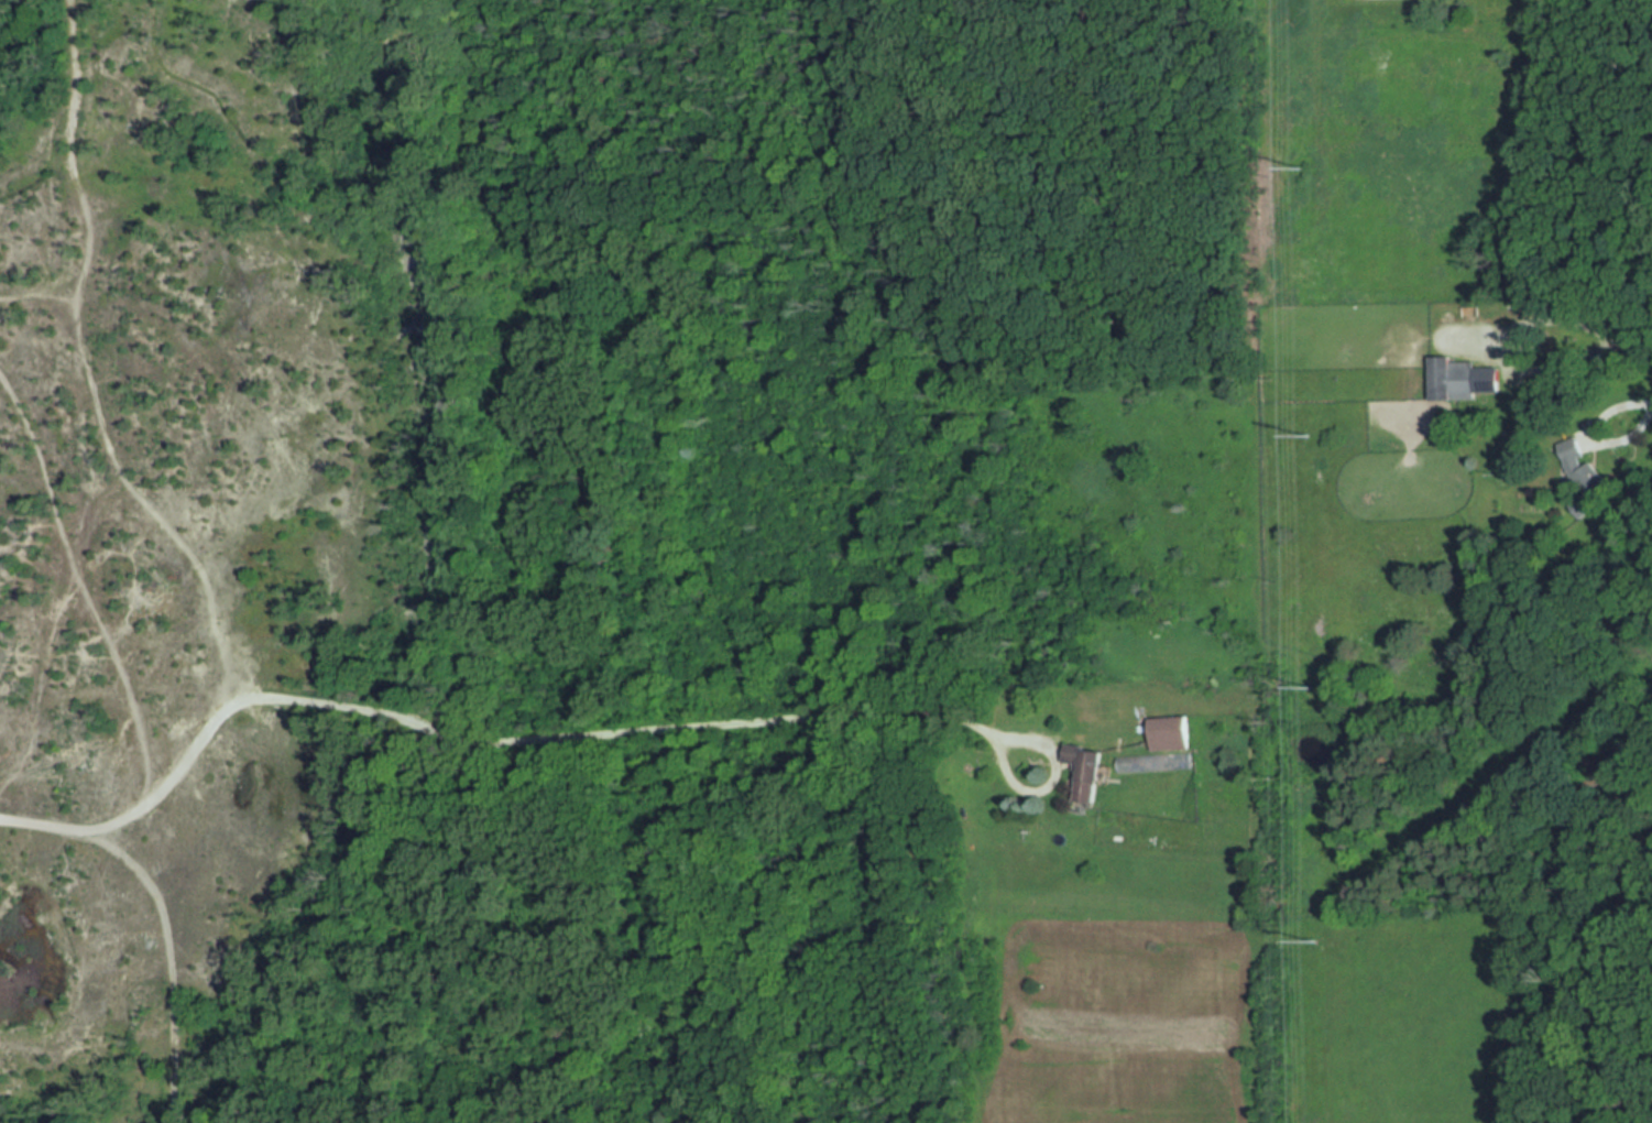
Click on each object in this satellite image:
park: (1369, 0)
road: (26, 291)
road: (1506, 345)
road: (1633, 346)
road: (63, 371)
building: (1463, 381)
road: (1594, 435)
building: (1586, 478)
road: (76, 609)
road: (22, 662)
road: (205, 716)
road: (819, 717)
building: (1171, 734)
building: (1157, 763)
building: (1087, 774)
road: (157, 959)

